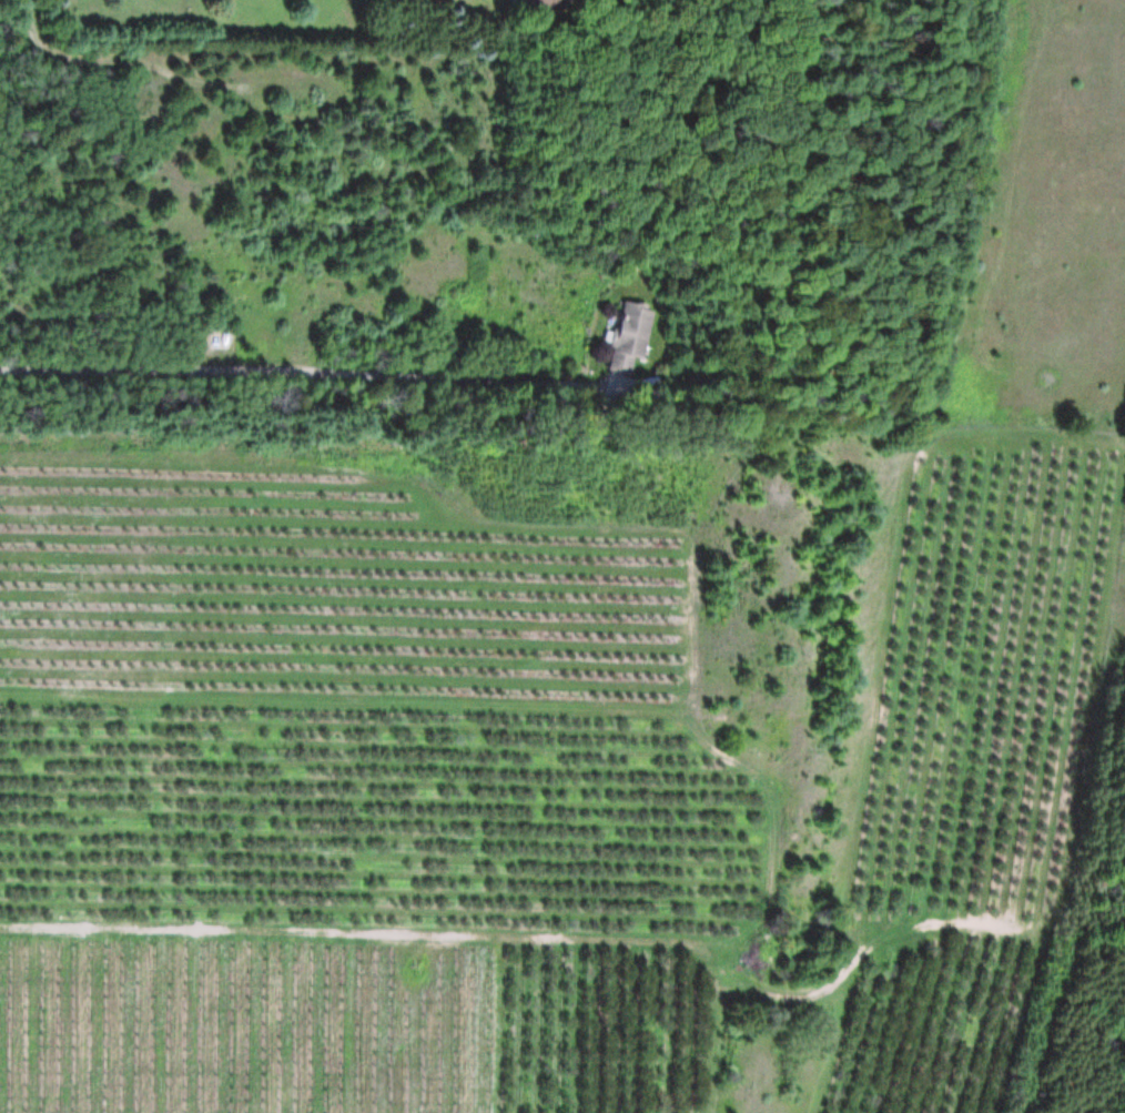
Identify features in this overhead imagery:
building: (630, 336)
road: (320, 371)

